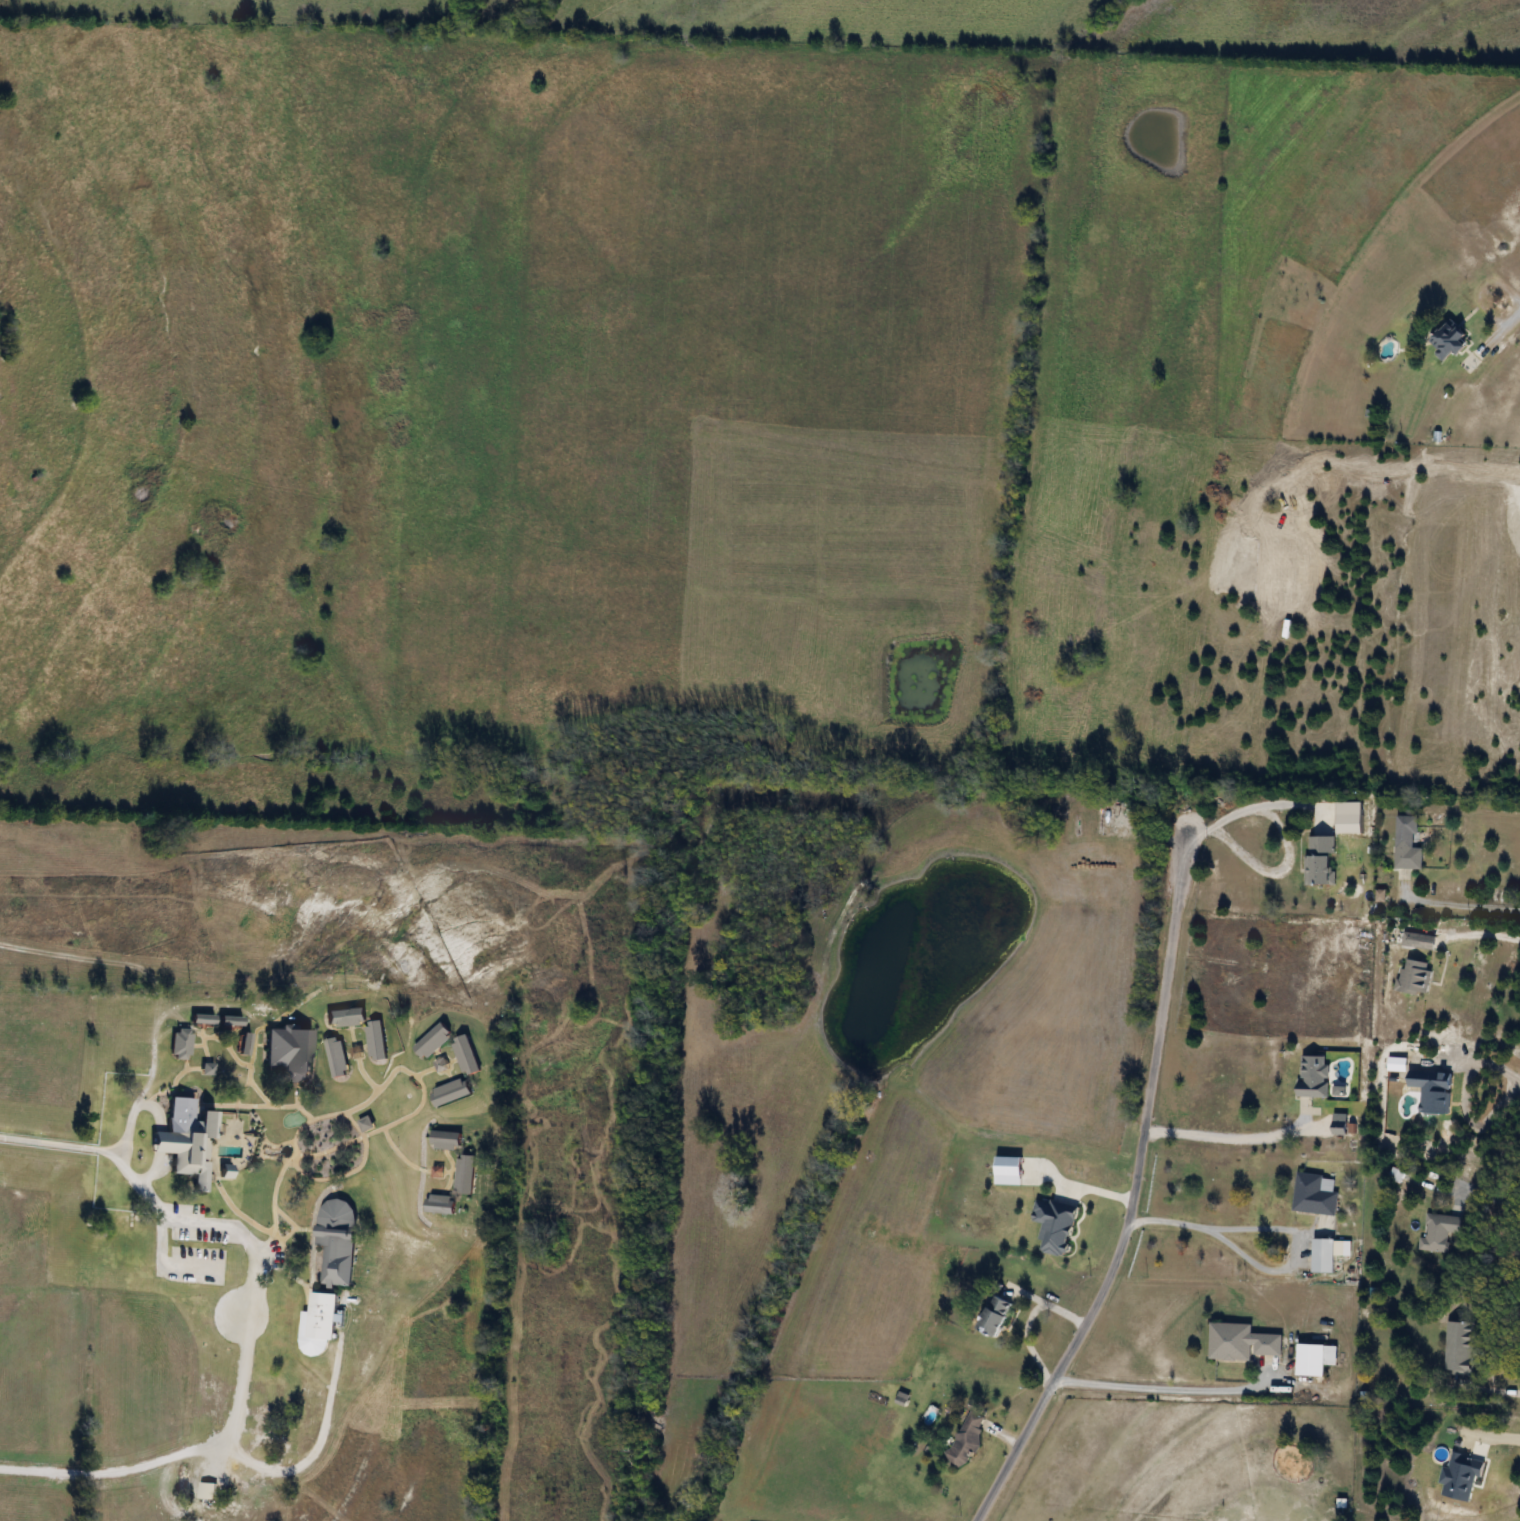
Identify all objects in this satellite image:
road: (1496, 334)
building: (1450, 340)
road: (1240, 810)
building: (1408, 843)
building: (1321, 859)
road: (1450, 901)
road: (1480, 929)
building: (1419, 940)
building: (1415, 976)
building: (203, 1018)
building: (231, 1020)
building: (180, 1043)
building: (244, 1043)
road: (1480, 1065)
building: (1314, 1076)
road: (143, 1083)
building: (1341, 1127)
building: (446, 1139)
road: (1227, 1139)
building: (187, 1146)
building: (466, 1173)
road: (1131, 1194)
building: (1315, 1194)
road: (1485, 1200)
building: (441, 1203)
road: (1278, 1228)
building: (1439, 1231)
building: (337, 1240)
building: (1328, 1254)
building: (996, 1315)
road: (252, 1317)
building: (319, 1323)
building: (1241, 1341)
building: (1462, 1347)
building: (1316, 1358)
road: (1163, 1388)
road: (1481, 1391)
road: (1489, 1431)
building: (966, 1439)
road: (312, 1444)
building: (207, 1490)

